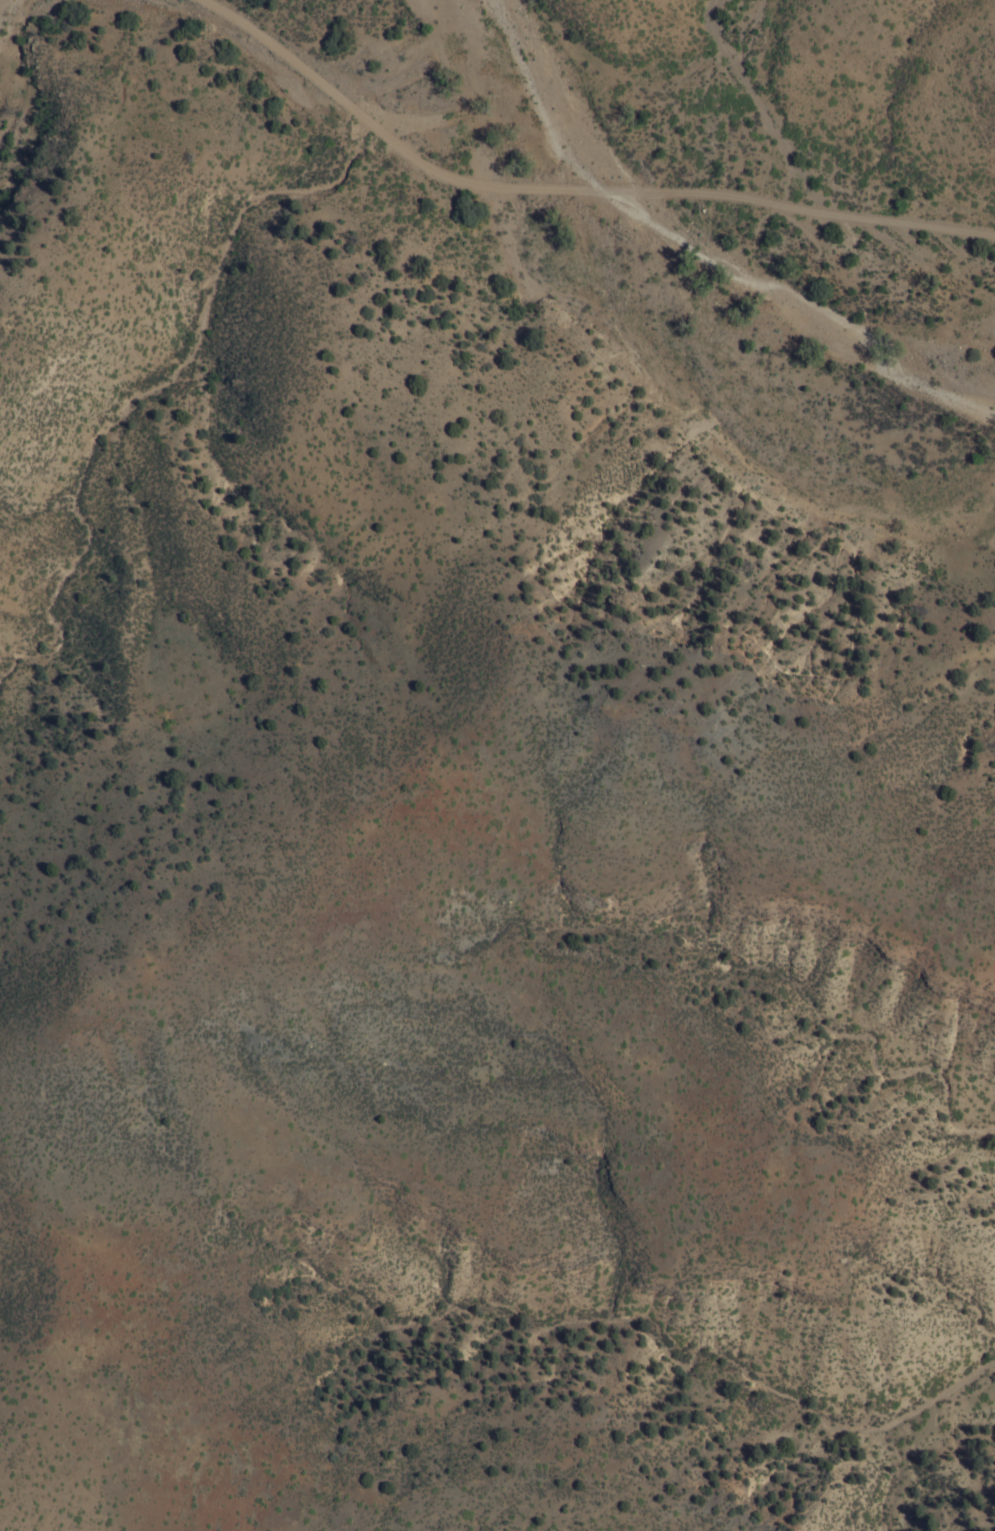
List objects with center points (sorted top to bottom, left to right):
road: (577, 148)

